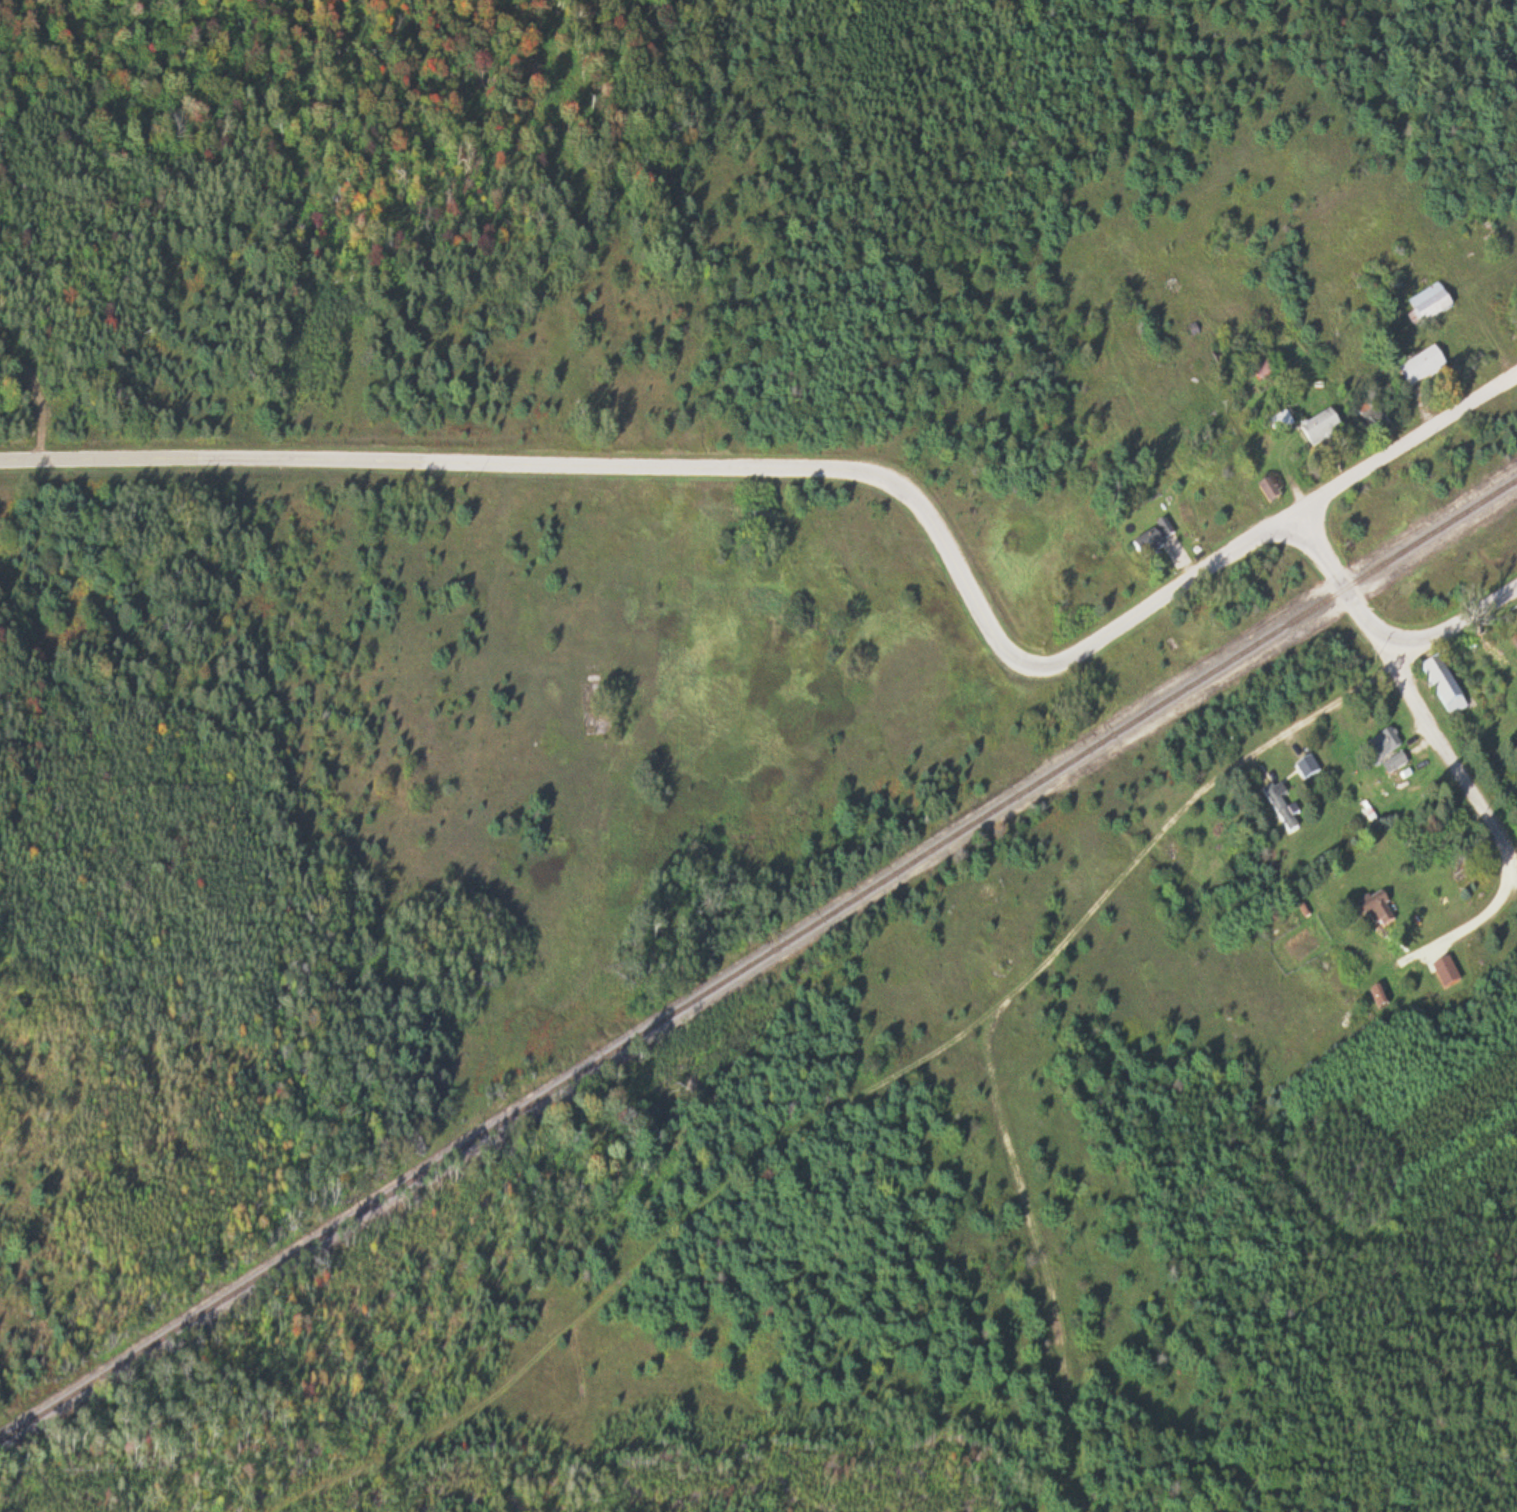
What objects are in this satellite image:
building: (1430, 307)
building: (1423, 369)
building: (1282, 426)
building: (1323, 430)
building: (1016, 441)
road: (1404, 442)
road: (870, 475)
building: (1270, 493)
building: (1156, 543)
building: (1447, 687)
building: (1390, 752)
building: (1308, 771)
road: (1477, 803)
building: (1281, 812)
building: (1380, 913)
railway: (758, 961)
building: (1407, 978)
building: (1380, 1001)

